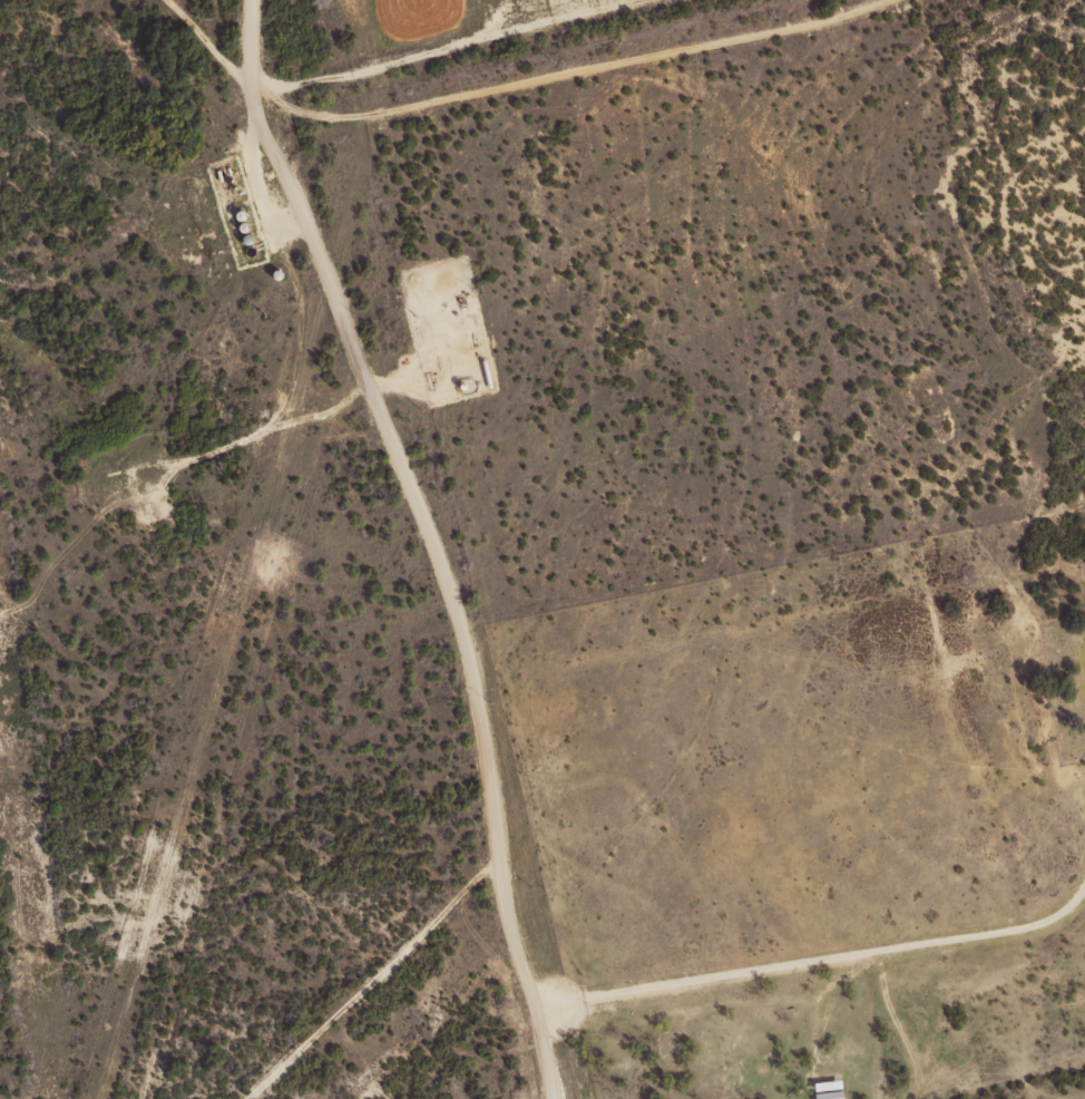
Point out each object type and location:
road: (424, 39)
road: (216, 46)
road: (258, 128)
road: (458, 622)
road: (986, 932)
road: (783, 964)
building: (823, 1089)

